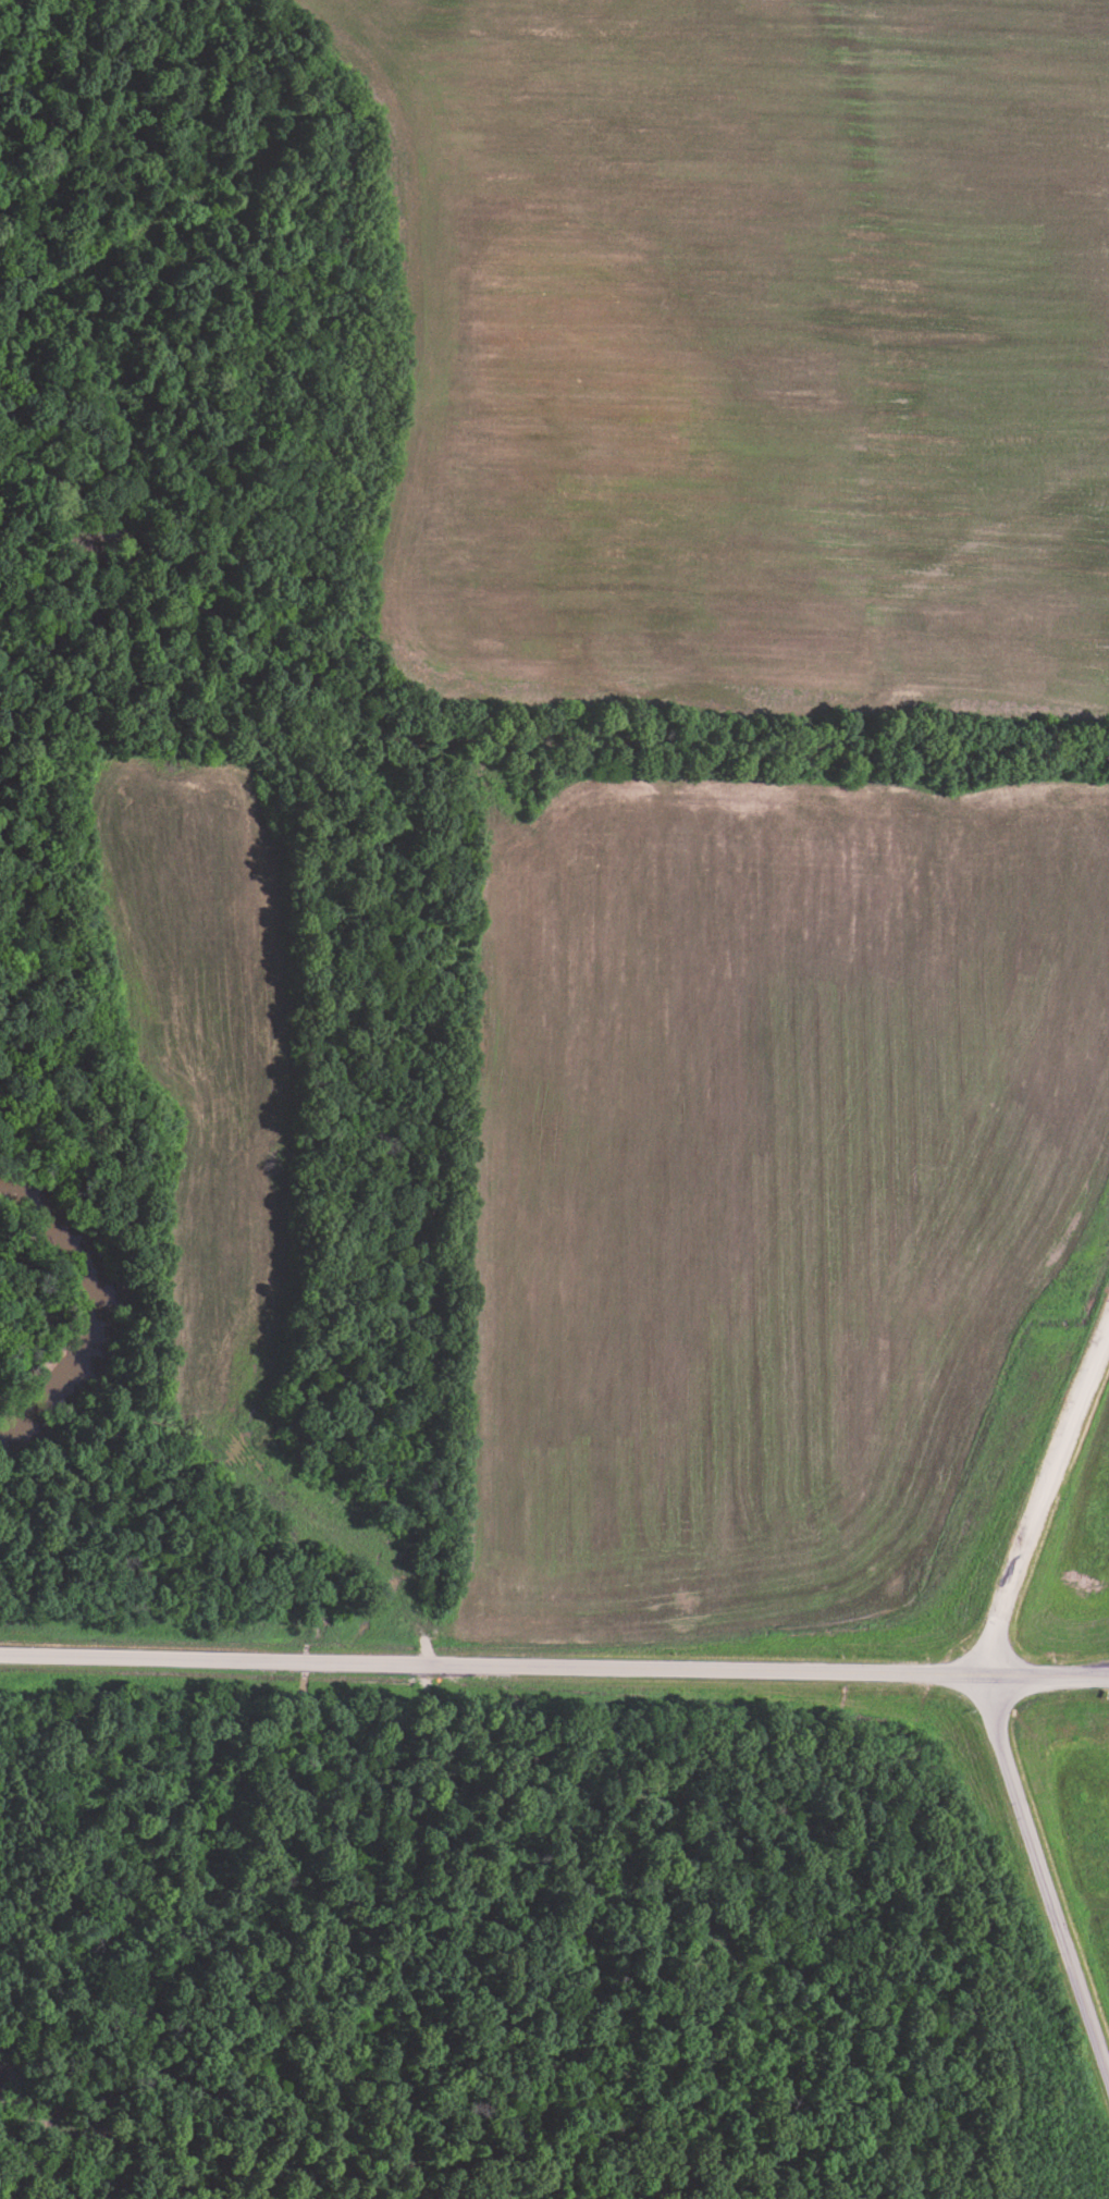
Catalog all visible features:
river: (95, 1297)
road: (1043, 1502)
road: (554, 1670)
road: (1044, 1877)

